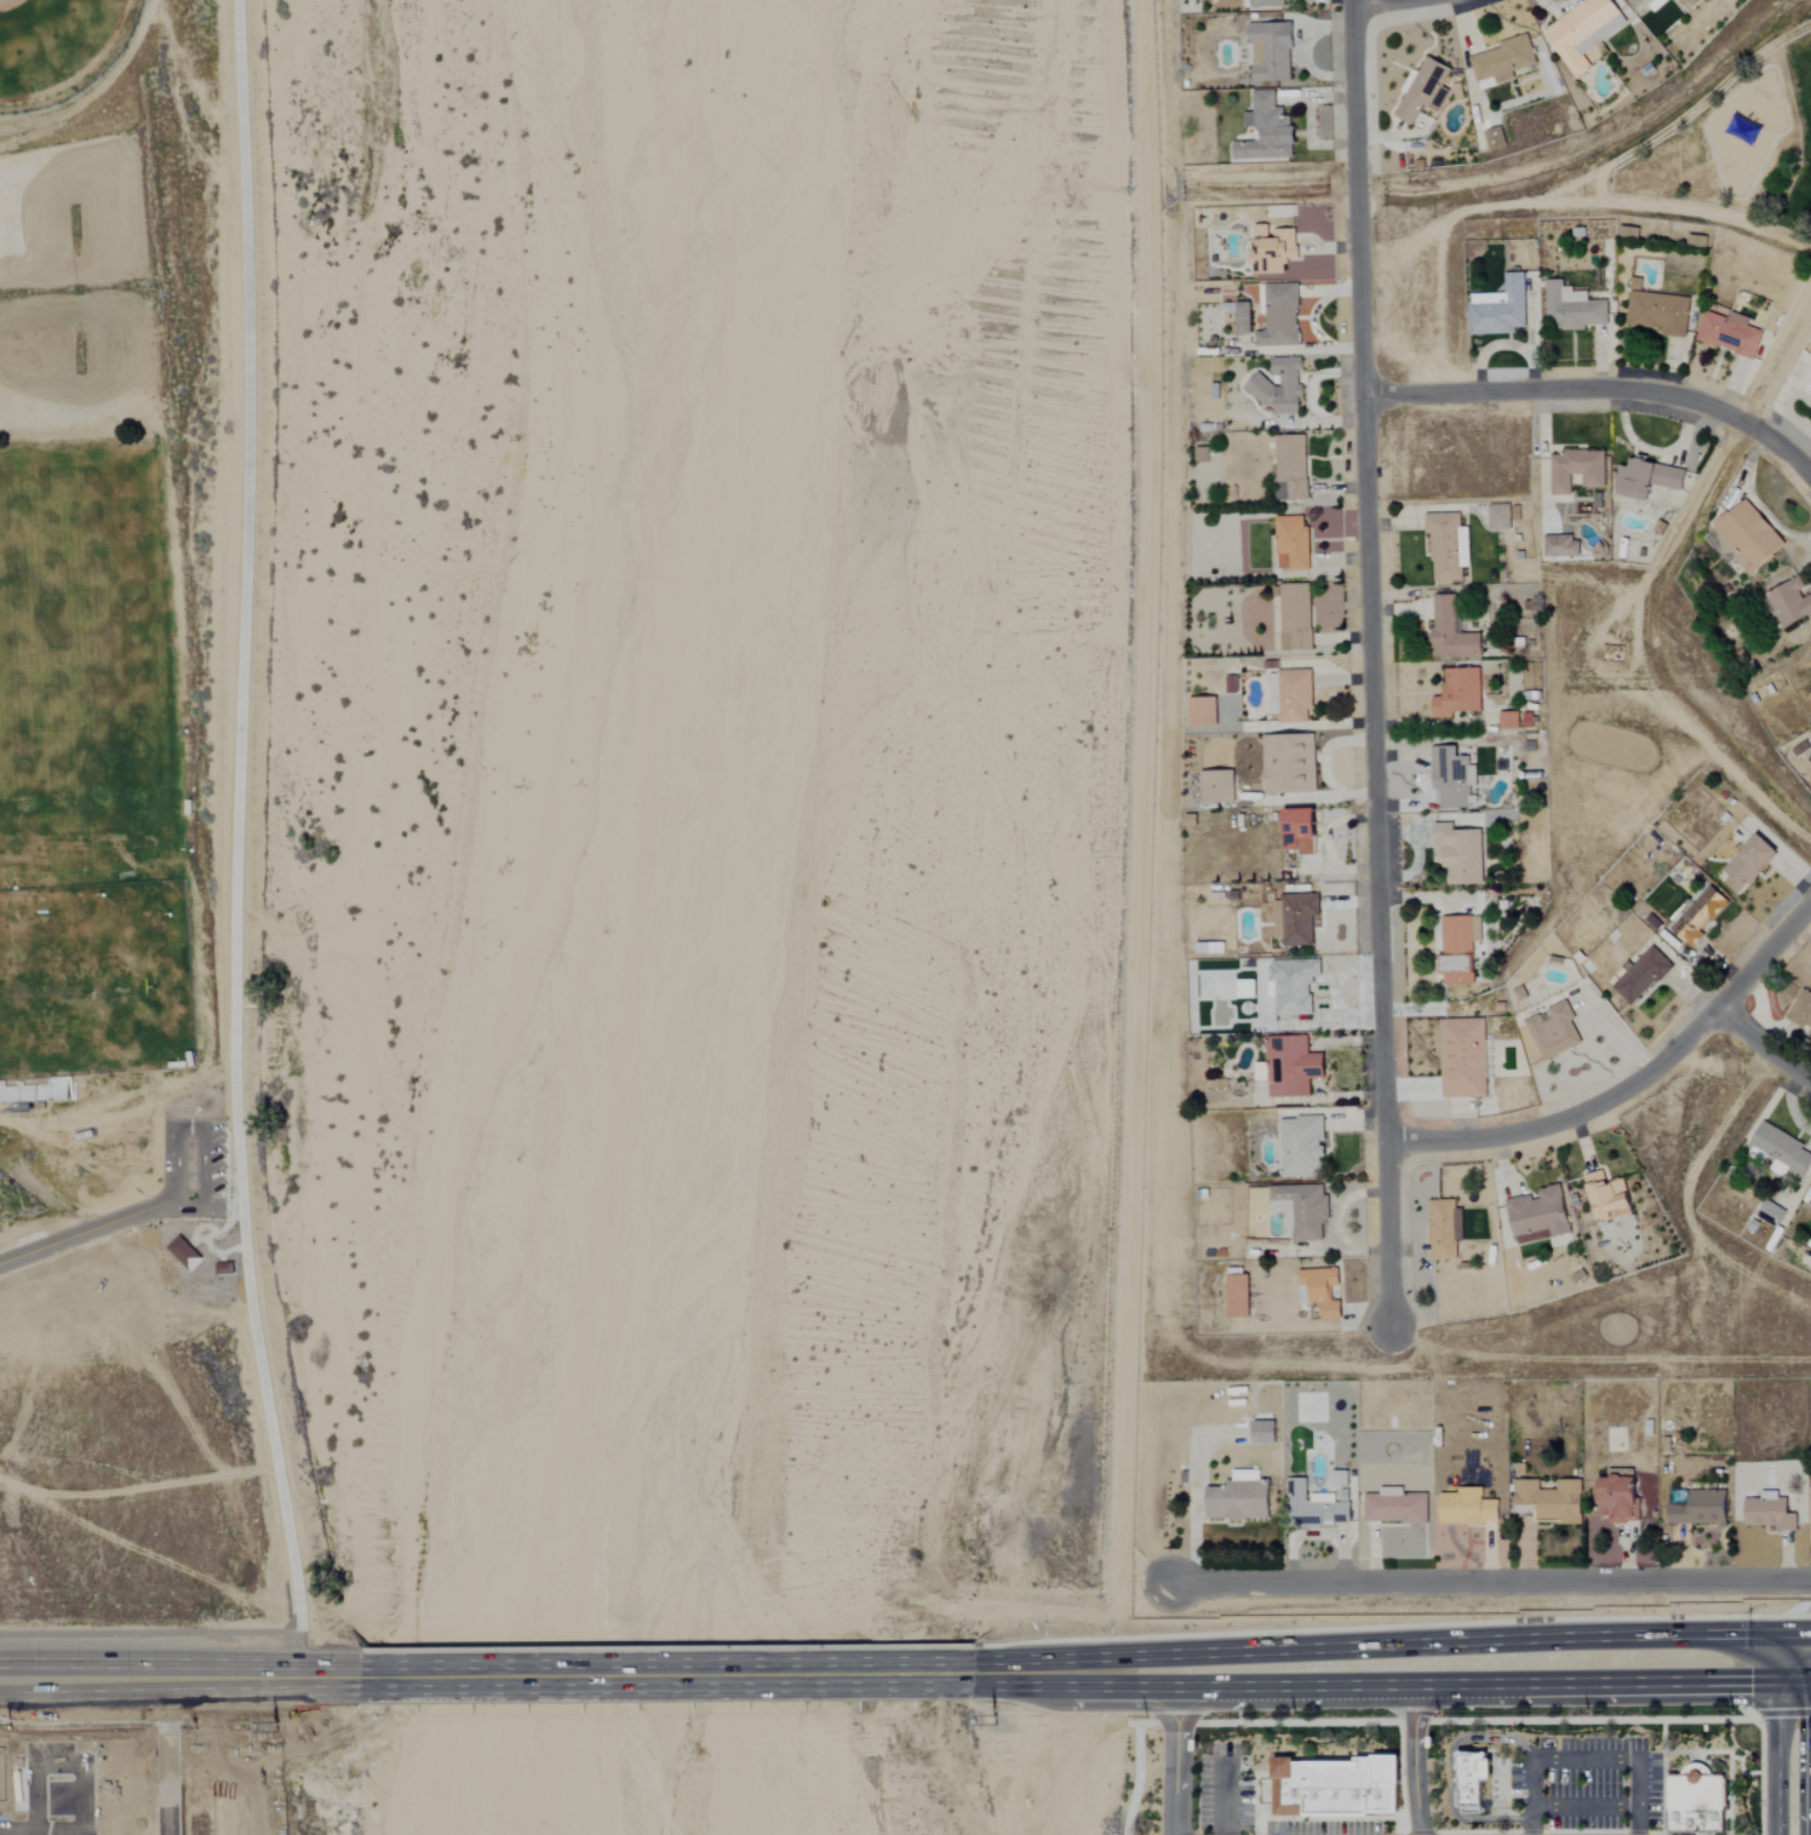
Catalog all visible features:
building: (1266, 4)
building: (1649, 5)
building: (1584, 31)
park: (39, 38)
building: (1271, 52)
building: (1502, 63)
building: (1423, 91)
building: (1743, 130)
building: (1267, 131)
road: (1780, 134)
building: (1496, 139)
park: (1738, 147)
road: (1753, 211)
road: (1712, 213)
building: (1629, 234)
building: (1697, 242)
building: (1274, 251)
building: (1500, 309)
building: (1572, 309)
building: (1657, 311)
building: (1280, 317)
building: (1245, 320)
building: (1730, 334)
road: (1778, 363)
building: (1806, 380)
building: (1282, 388)
road: (1600, 390)
building: (1293, 466)
building: (1577, 470)
building: (1647, 480)
building: (1503, 517)
building: (1746, 538)
building: (1293, 544)
building: (1448, 545)
building: (1563, 546)
building: (1788, 602)
building: (1296, 617)
building: (1451, 630)
road: (1635, 653)
road: (1374, 661)
building: (1458, 693)
building: (1291, 695)
building: (1203, 712)
building: (1515, 719)
building: (1290, 763)
park: (85, 773)
building: (1454, 778)
building: (1219, 786)
building: (1302, 831)
road: (240, 842)
building: (1461, 854)
building: (1750, 865)
building: (1701, 916)
building: (1296, 918)
river: (802, 919)
building: (1458, 948)
building: (1643, 976)
building: (1295, 985)
building: (1801, 1011)
building: (1554, 1031)
road: (1761, 1044)
building: (1463, 1059)
building: (1293, 1066)
road: (1632, 1082)
building: (33, 1094)
road: (202, 1128)
building: (1302, 1147)
building: (1783, 1149)
building: (1610, 1198)
building: (1302, 1210)
building: (1810, 1214)
building: (1772, 1215)
building: (1538, 1216)
building: (1445, 1229)
road: (87, 1232)
road: (211, 1235)
building: (184, 1254)
building: (1810, 1268)
building: (225, 1269)
building: (1320, 1291)
building: (1239, 1297)
building: (1265, 1433)
building: (1340, 1479)
building: (1240, 1497)
building: (1621, 1497)
building: (1552, 1501)
building: (1395, 1507)
building: (1319, 1508)
building: (1469, 1508)
building: (1702, 1509)
building: (1771, 1513)
road: (1489, 1582)
road: (149, 1632)
road: (1801, 1662)
traffic signals: (1793, 1663)
road: (1382, 1668)
road: (665, 1676)
road: (179, 1679)
road: (1782, 1713)
road: (1446, 1721)
road: (1133, 1724)
road: (1661, 1737)
road: (1793, 1749)
road: (1412, 1751)
road: (1174, 1753)
road: (1661, 1756)
road: (1624, 1757)
road: (1223, 1761)
road: (1398, 1768)
road: (1741, 1770)
road: (1759, 1773)
road: (1452, 1776)
road: (1136, 1779)
building: (1472, 1779)
building: (1333, 1784)
parking lot: (1586, 1787)
parking lot: (1223, 1794)
road: (1535, 1796)
road: (1730, 1796)
building: (1695, 1804)
road: (1586, 1807)
road: (1306, 1818)
road: (1259, 1827)
parking lot: (1322, 1828)
road: (1420, 1833)
road: (1477, 1833)
road: (1531, 1833)
road: (1584, 1833)
road: (1637, 1833)
road: (1406, 1834)
road: (1654, 1834)

